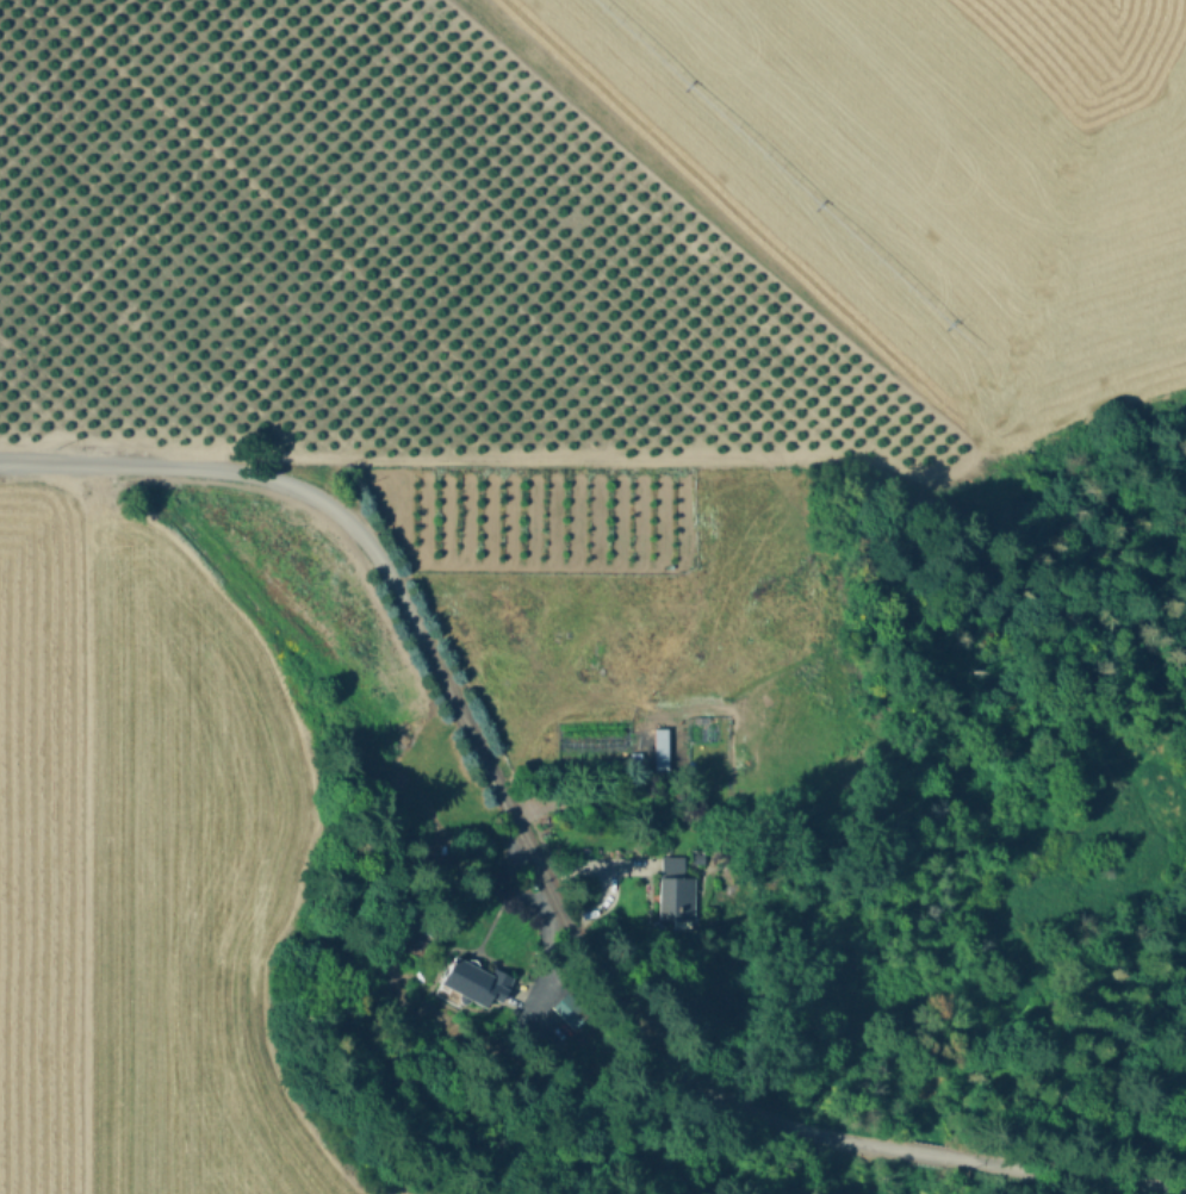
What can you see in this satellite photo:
crop: (476, 452)
road: (470, 734)
building: (659, 747)
building: (633, 760)
building: (675, 894)
building: (476, 980)
building: (570, 1014)
road: (927, 1155)
road: (1082, 1177)

